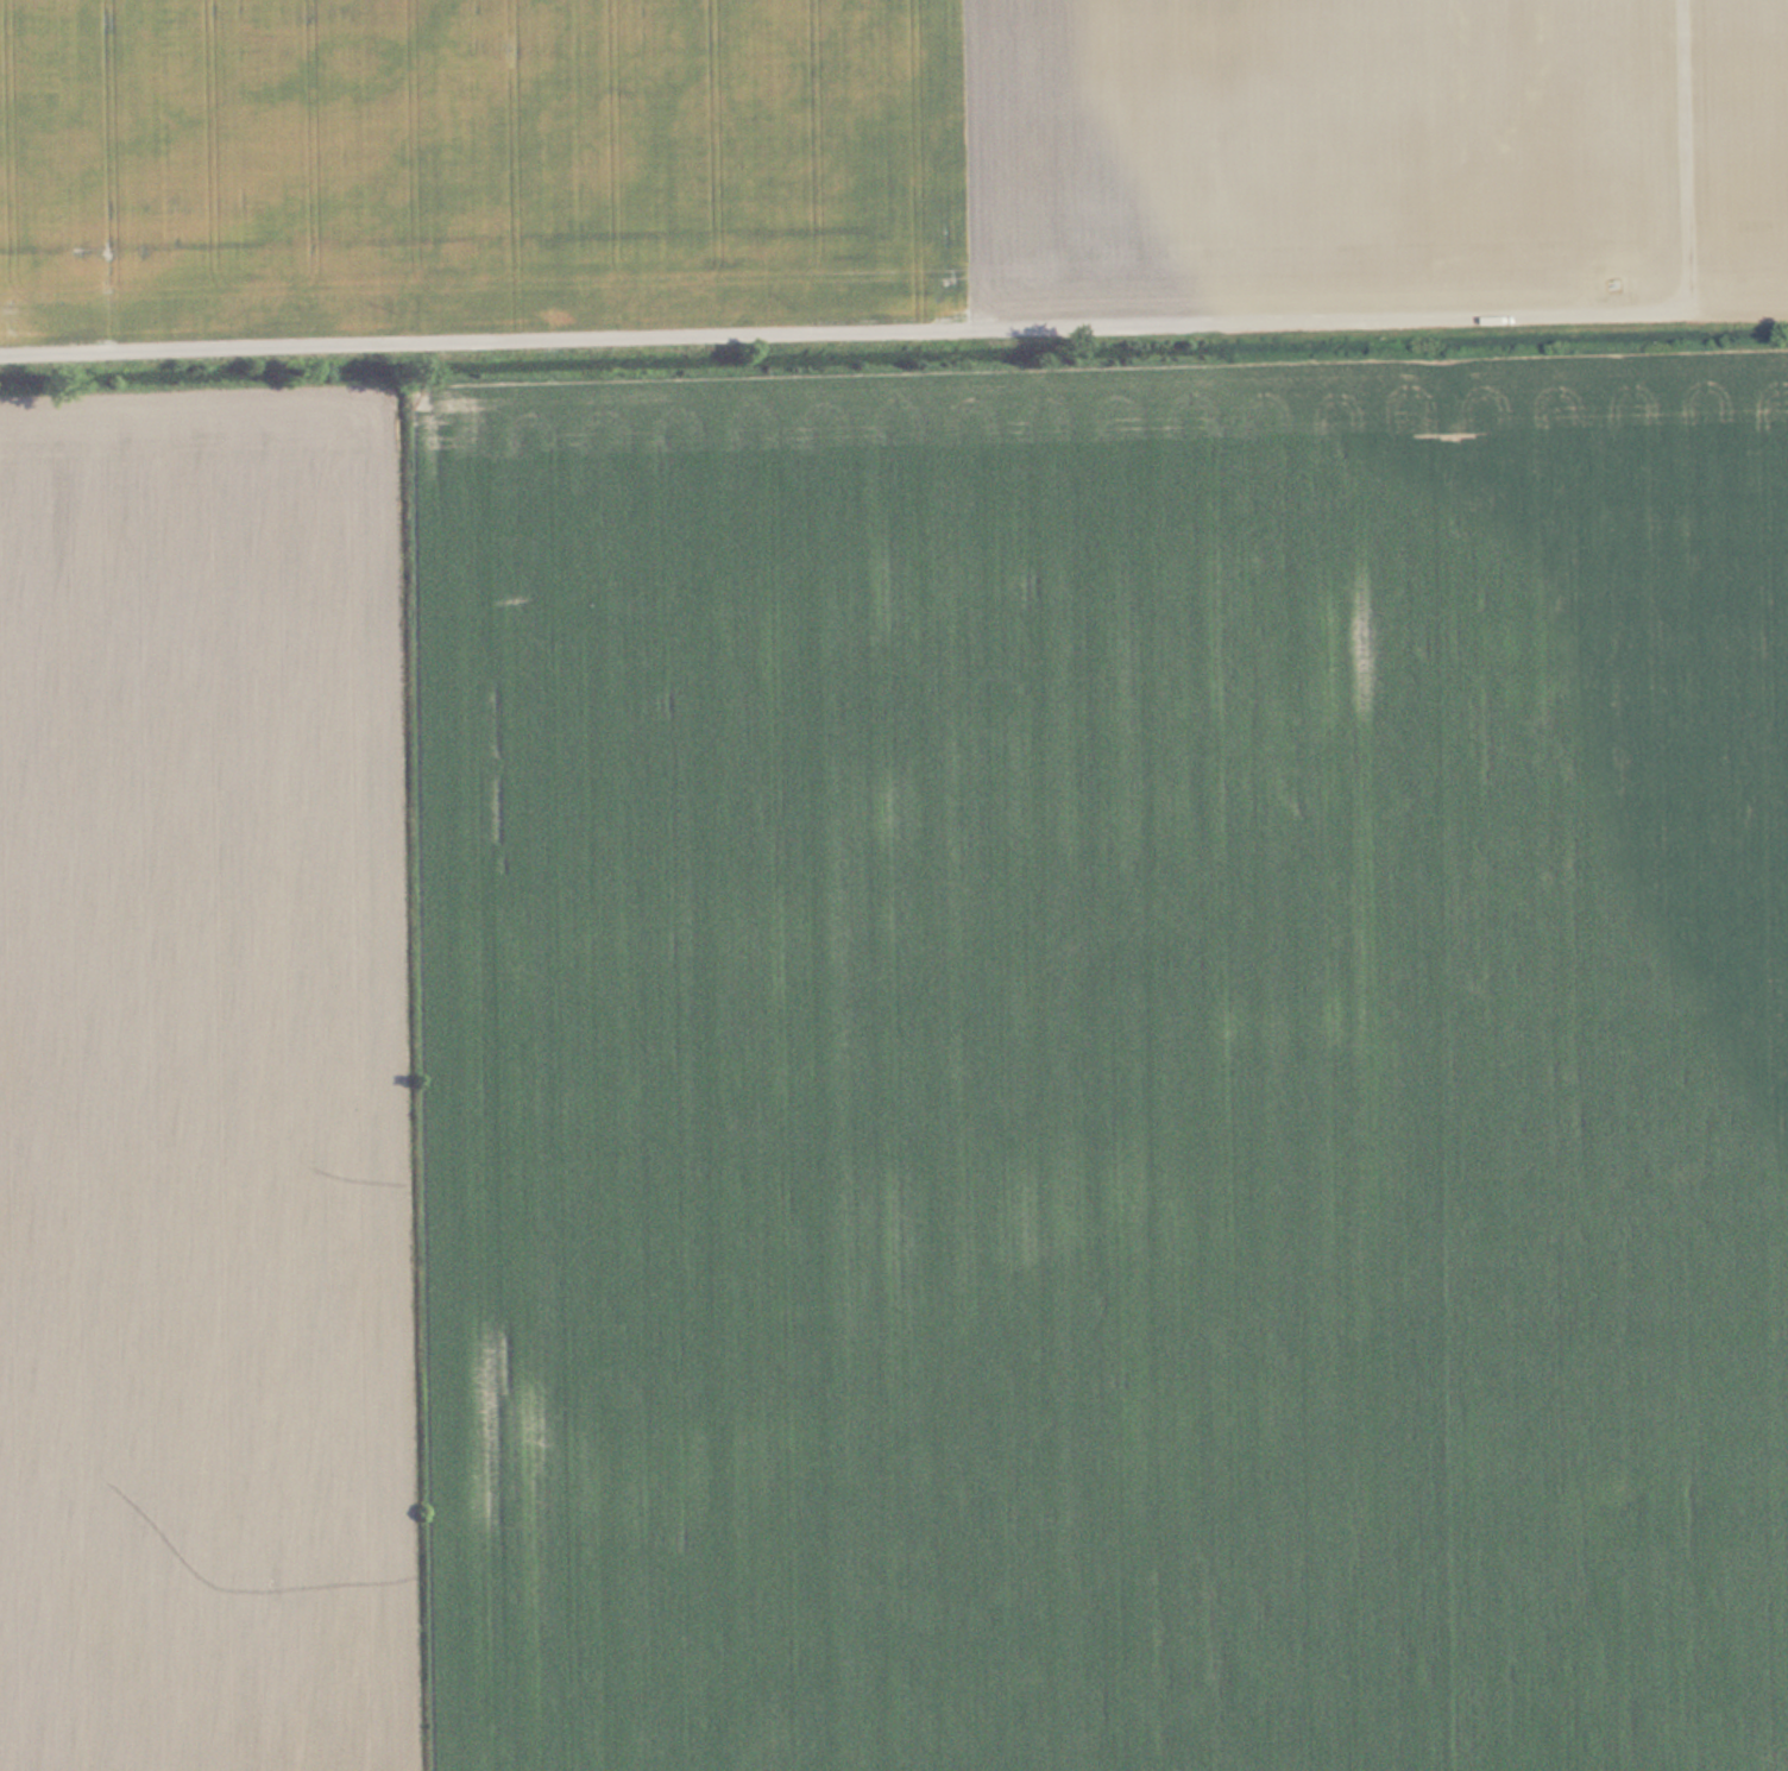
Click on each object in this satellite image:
road: (995, 320)

